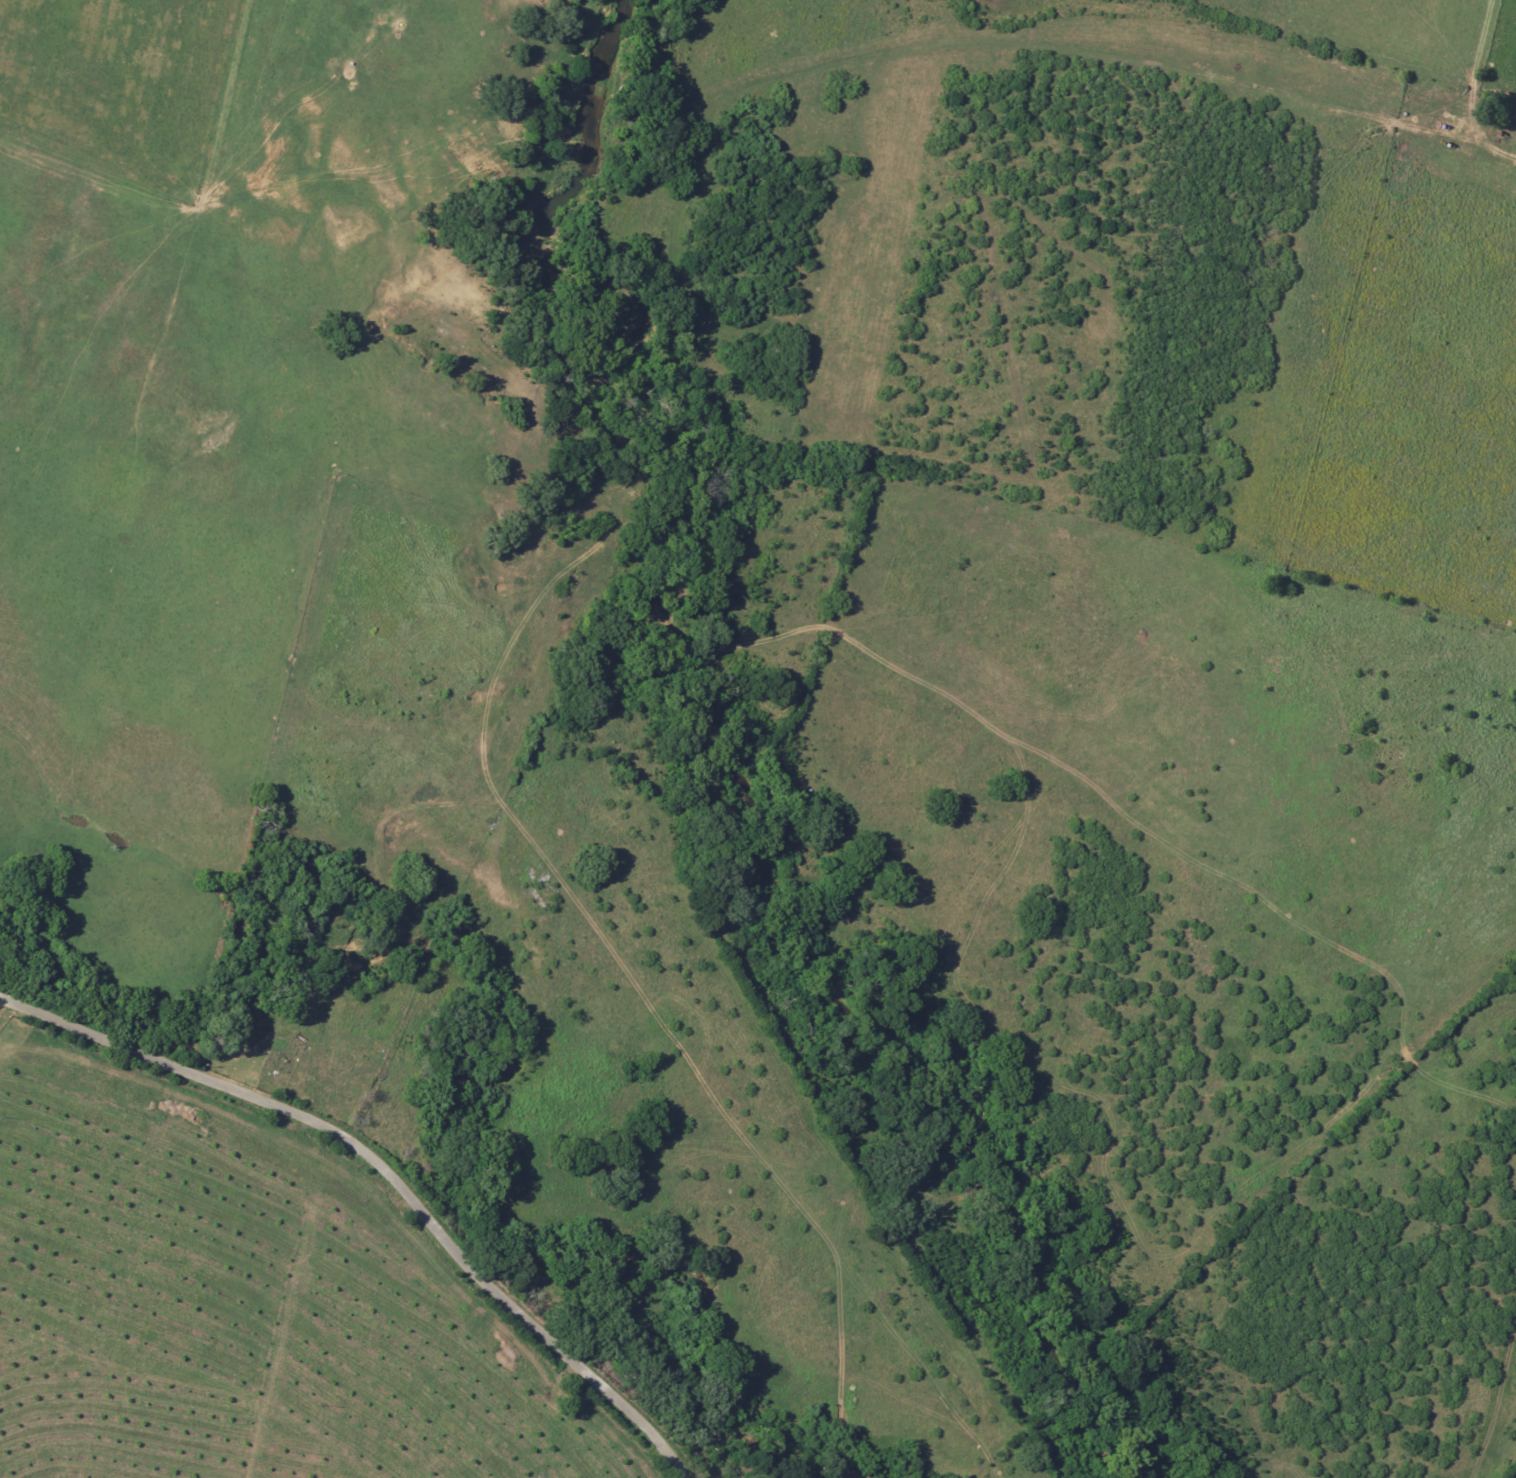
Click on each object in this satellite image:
road: (387, 1173)

